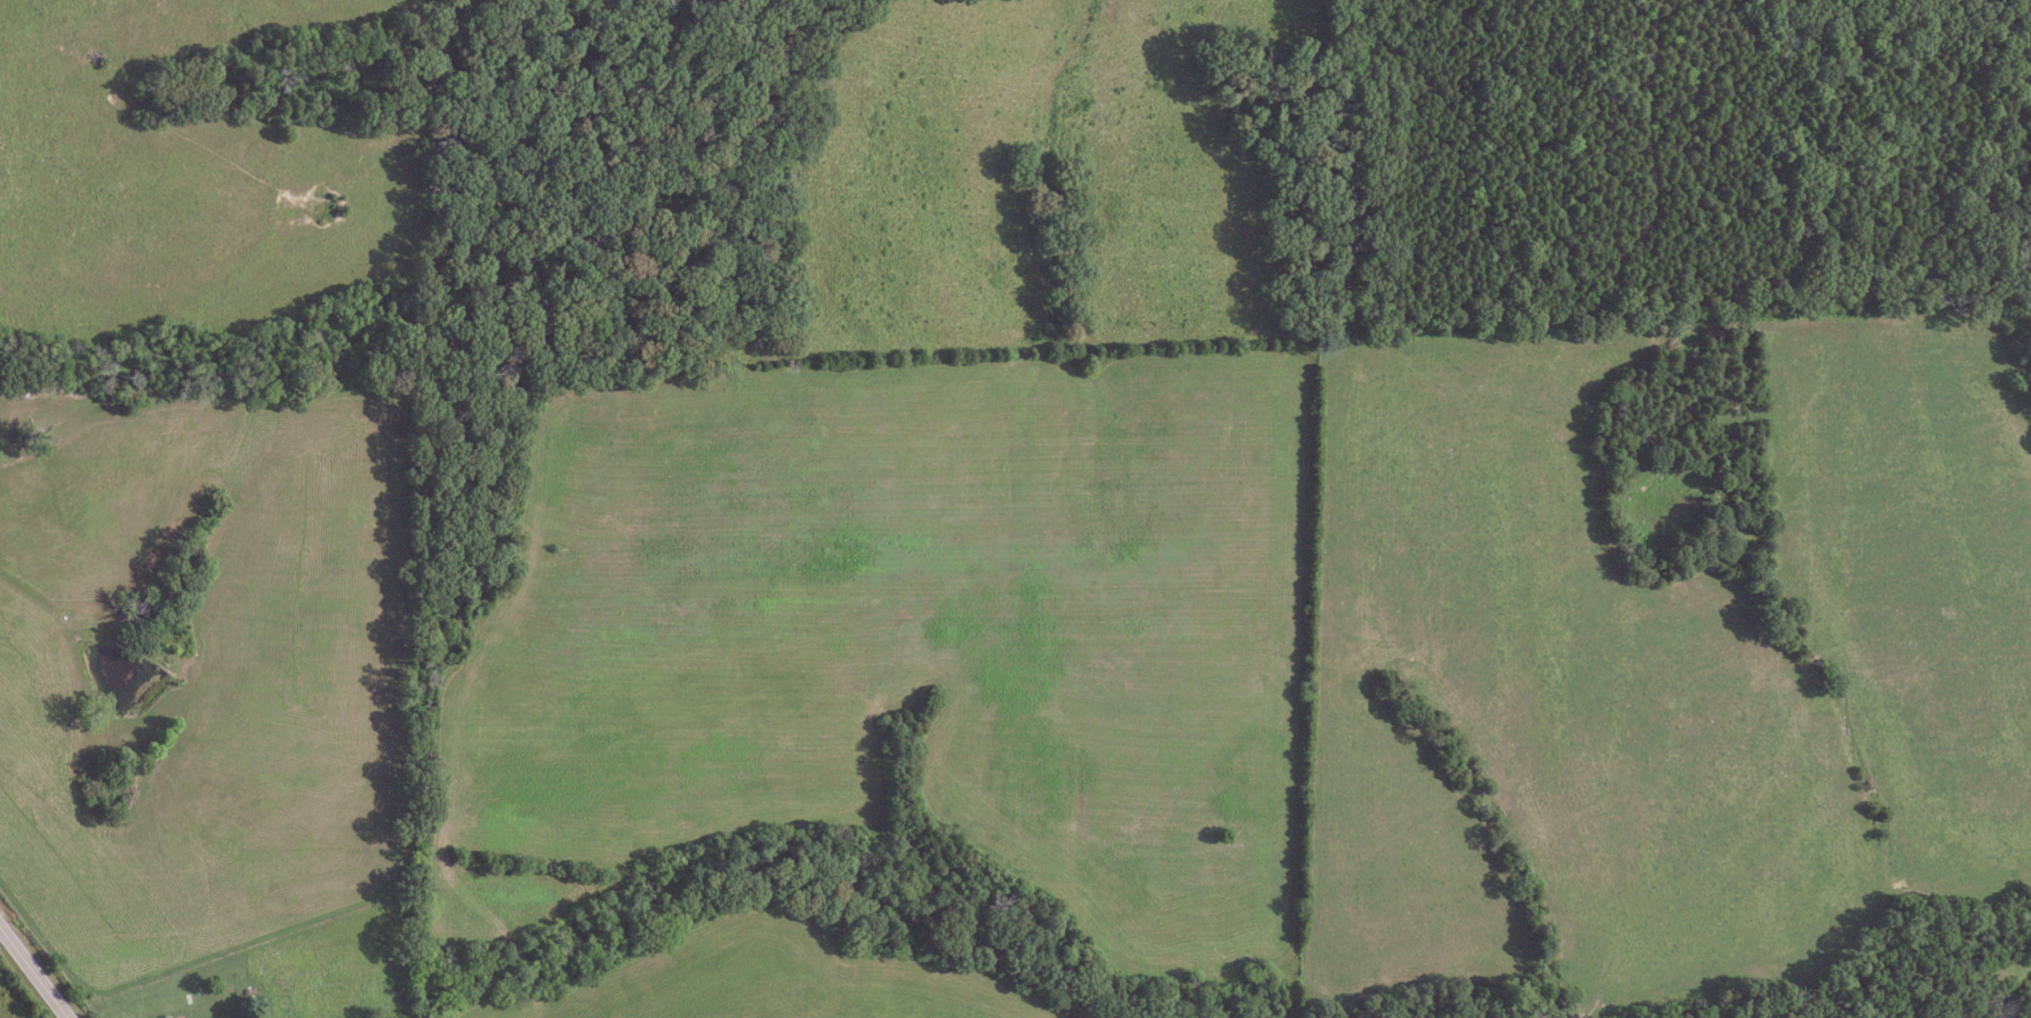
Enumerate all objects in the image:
road: (33, 974)

